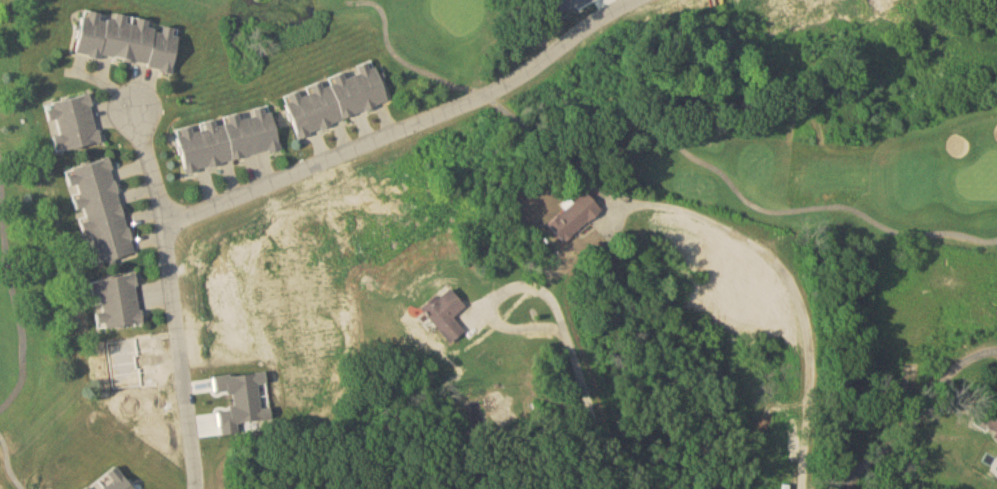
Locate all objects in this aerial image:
park: (2, 15)
building: (126, 39)
building: (335, 98)
building: (72, 122)
park: (684, 123)
road: (408, 128)
building: (227, 138)
building: (99, 211)
building: (573, 216)
road: (793, 286)
road: (174, 291)
building: (116, 302)
building: (445, 313)
road: (573, 353)
park: (63, 379)
building: (990, 417)
road: (898, 438)

